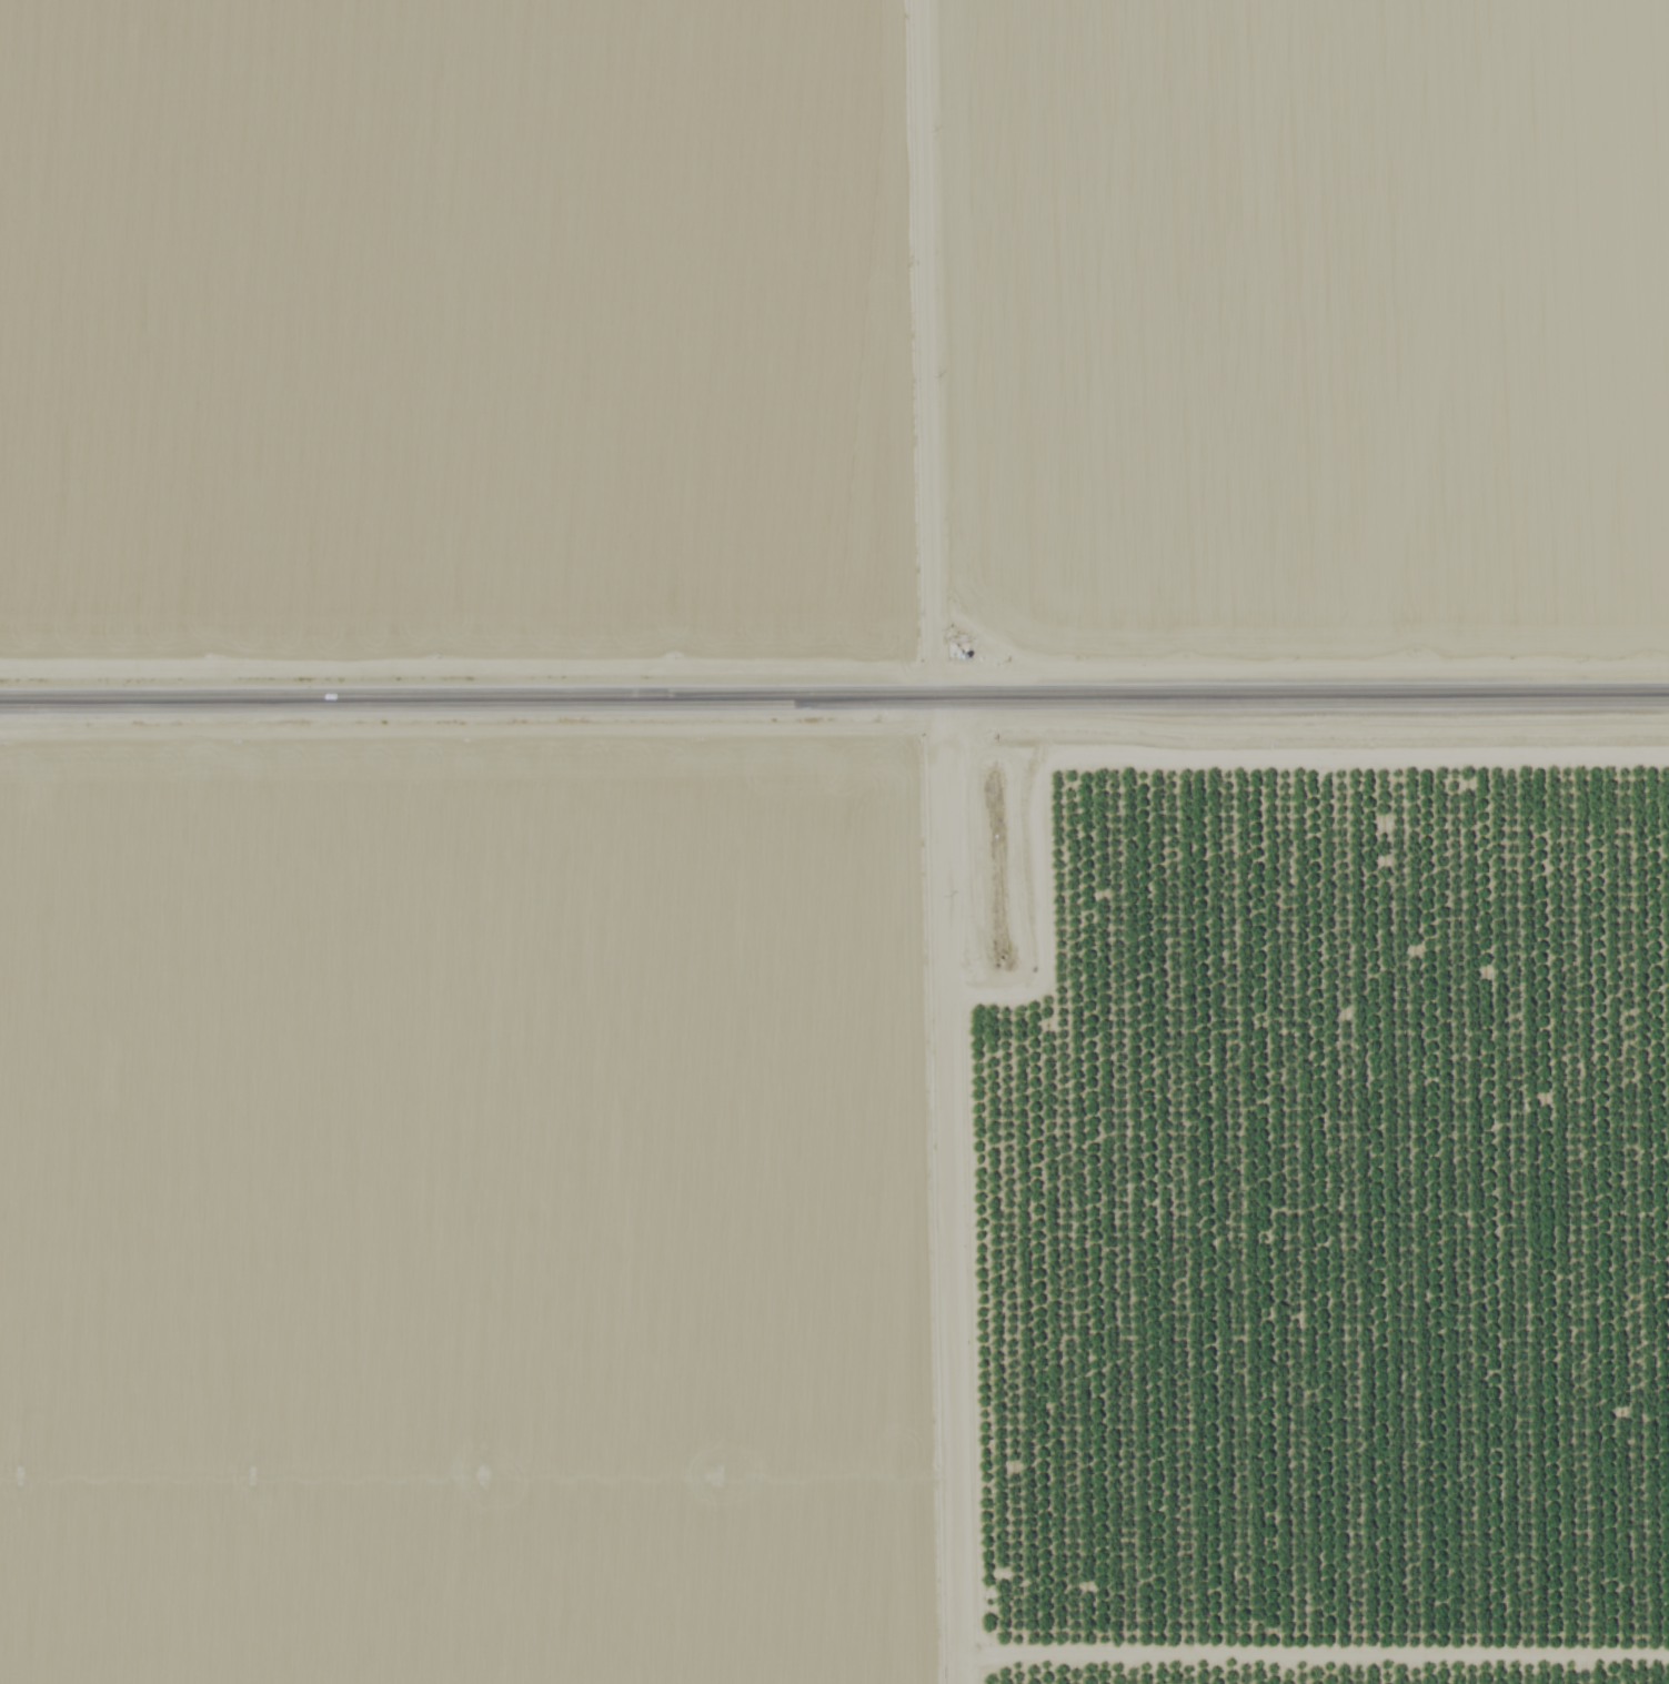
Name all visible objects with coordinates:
crop: (1313, 335)
crop: (477, 340)
road: (927, 351)
road: (1300, 699)
road: (466, 703)
road: (948, 1193)
crop: (486, 1226)

